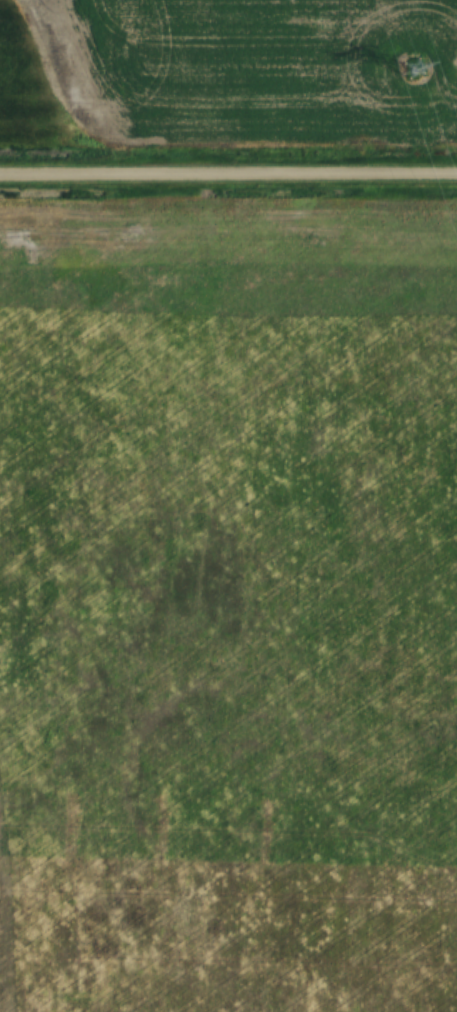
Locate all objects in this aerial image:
power tower: (414, 71)
road: (228, 175)

